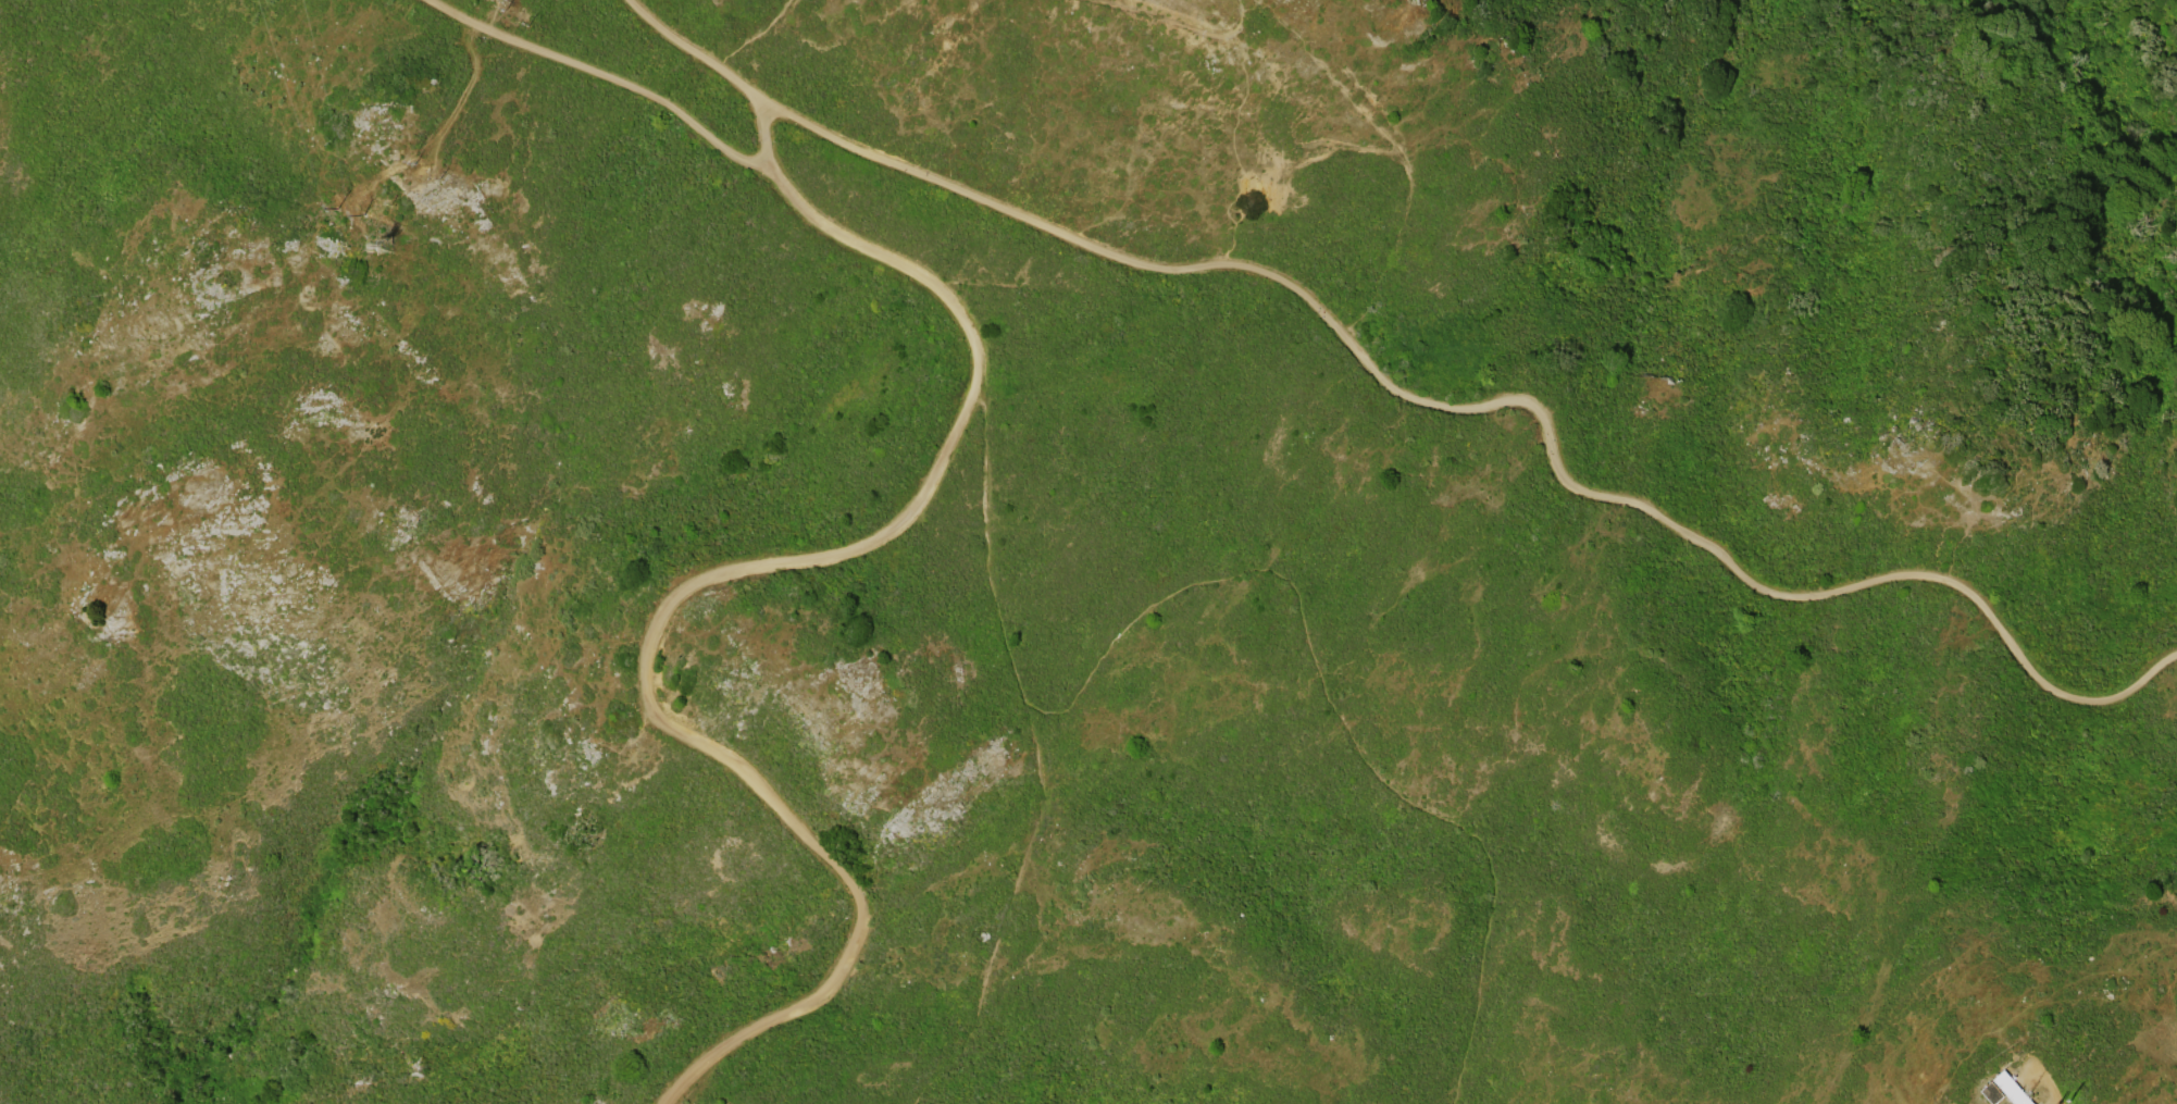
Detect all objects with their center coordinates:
road: (696, 52)
road: (608, 76)
road: (768, 136)
power tower: (389, 246)
road: (893, 261)
road: (1500, 400)
road: (673, 728)
building: (2011, 1089)
building: (1992, 1092)

